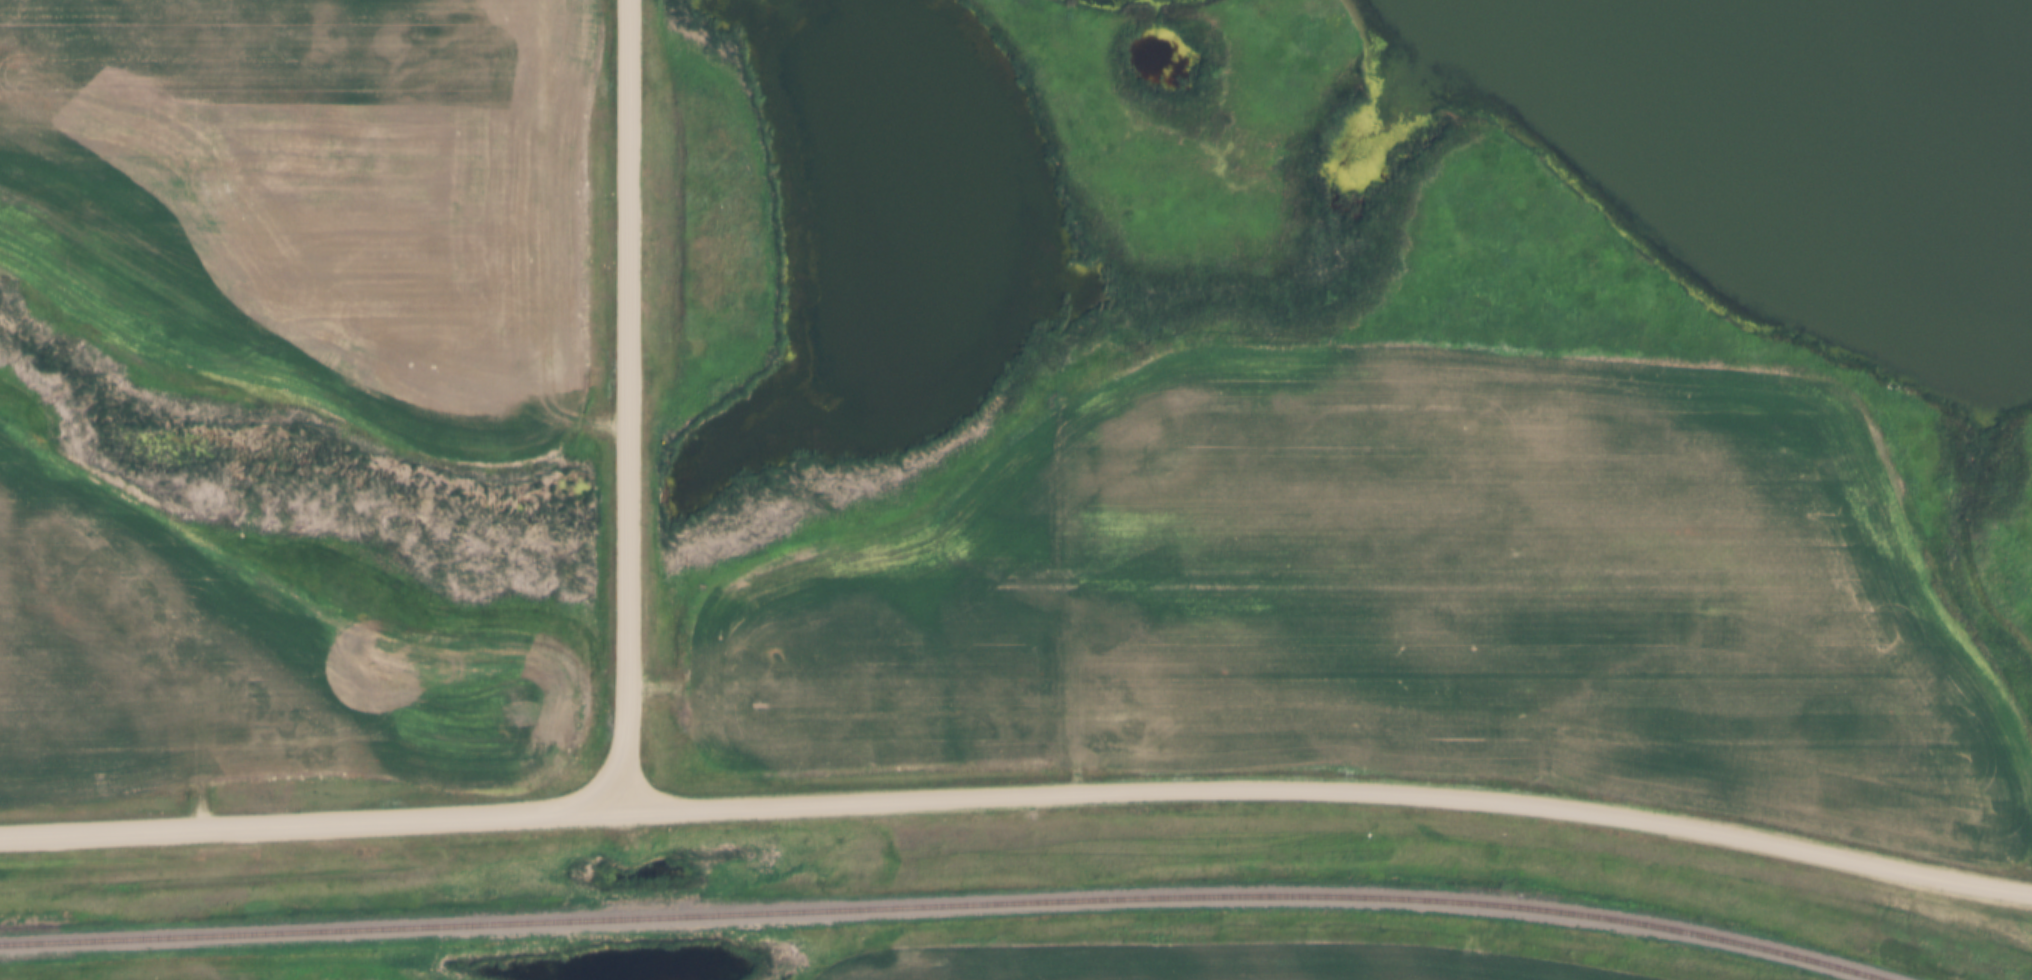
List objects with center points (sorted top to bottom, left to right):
road: (628, 404)
road: (1330, 787)
road: (310, 821)
railway: (941, 907)

